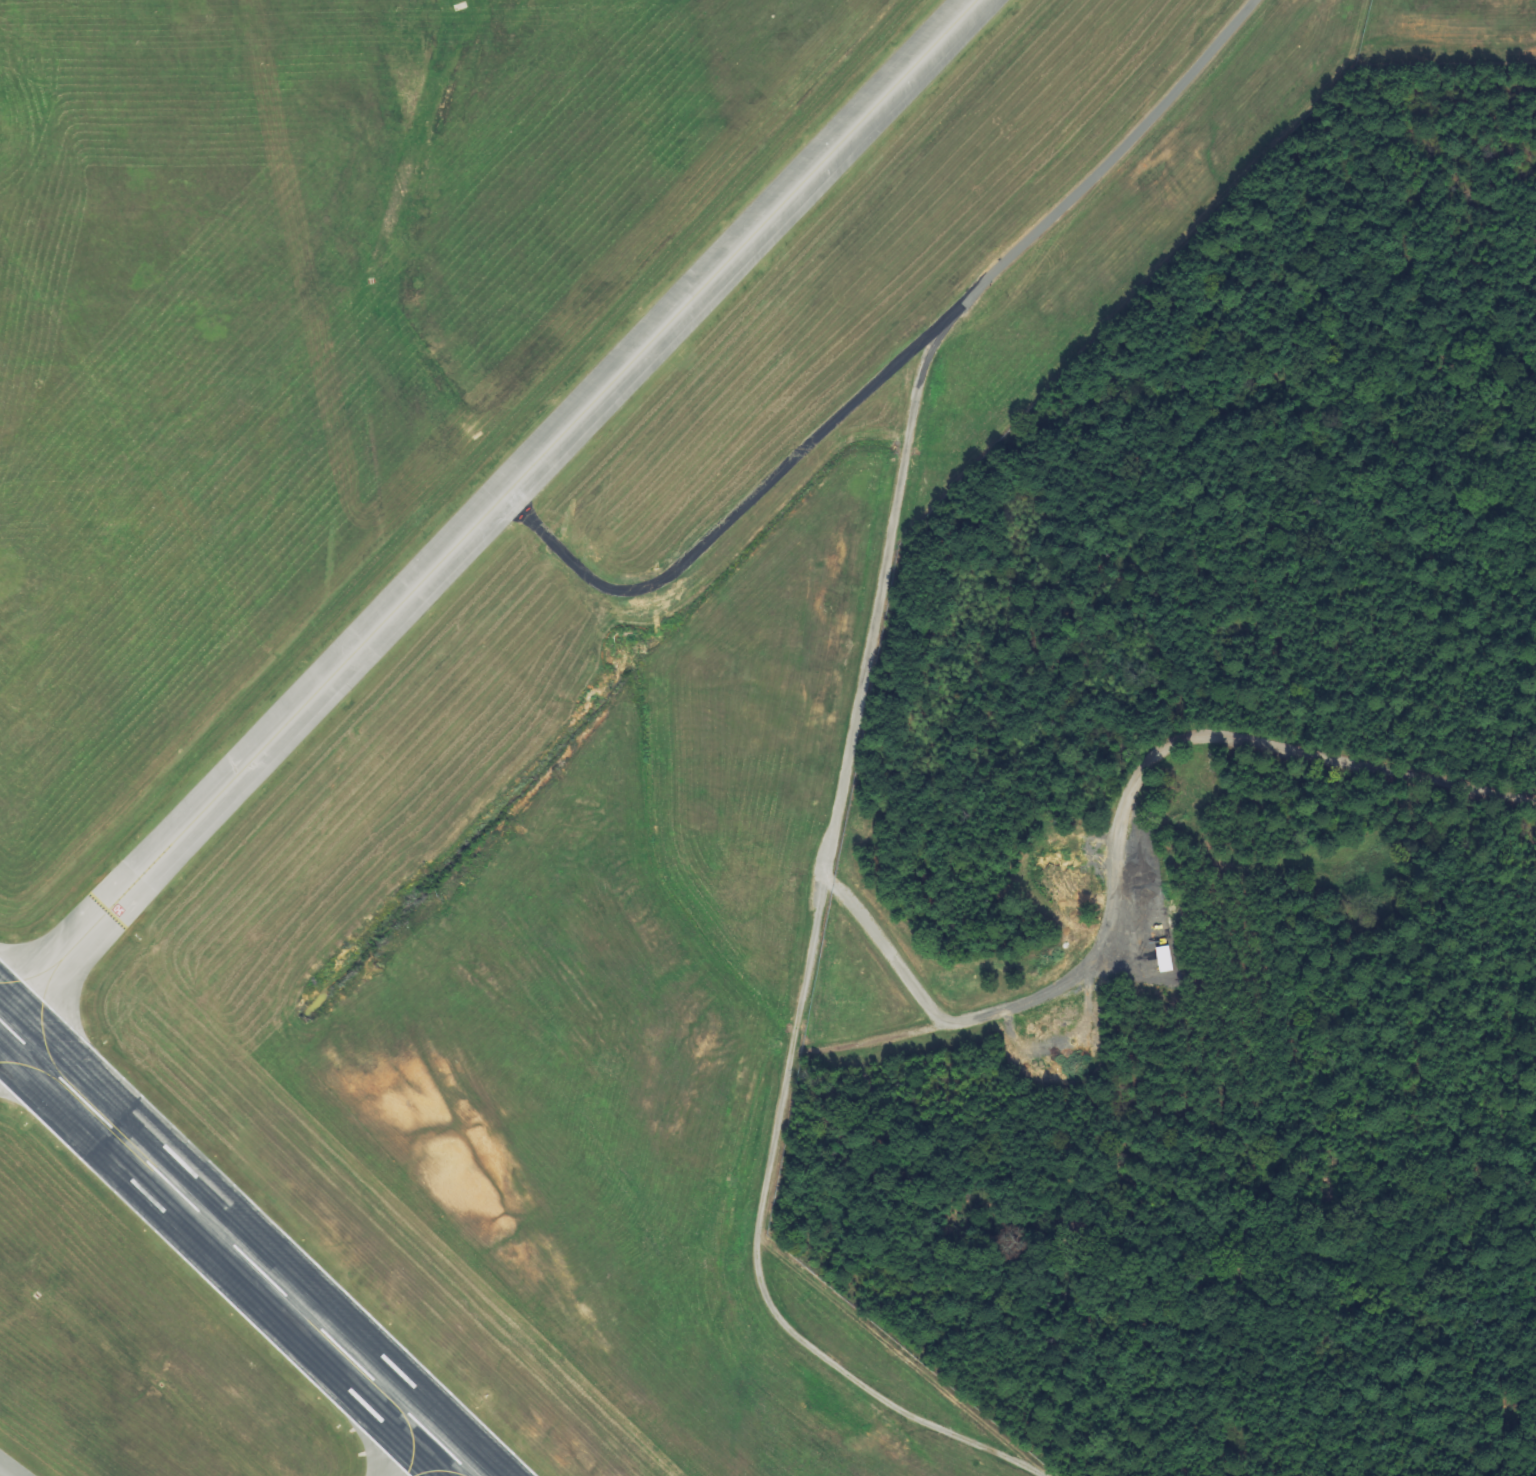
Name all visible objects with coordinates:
airport taxiway: (487, 512)
airport: (505, 672)
road: (846, 760)
road: (1125, 805)
airport taxiway: (1, 1025)
airport runway: (232, 1249)
airport taxiway: (426, 1463)

